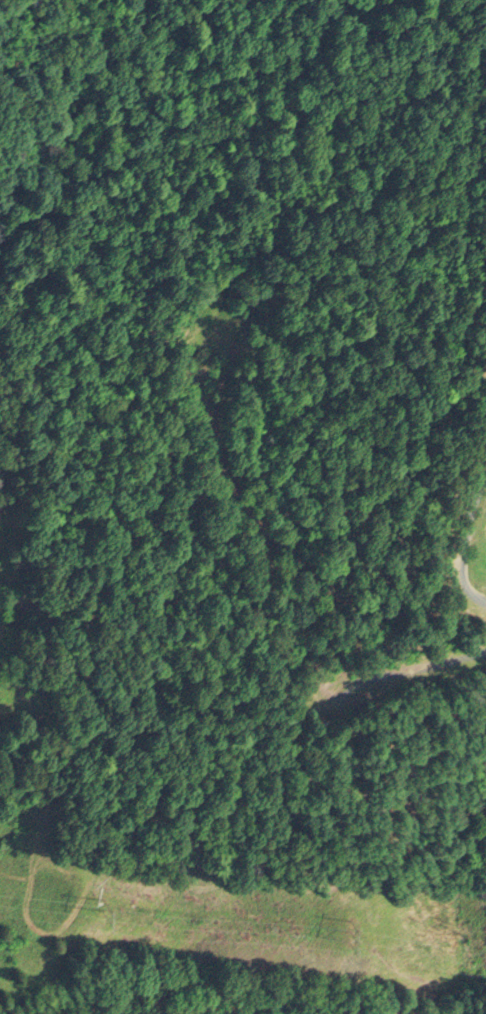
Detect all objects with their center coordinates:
road: (413, 666)

